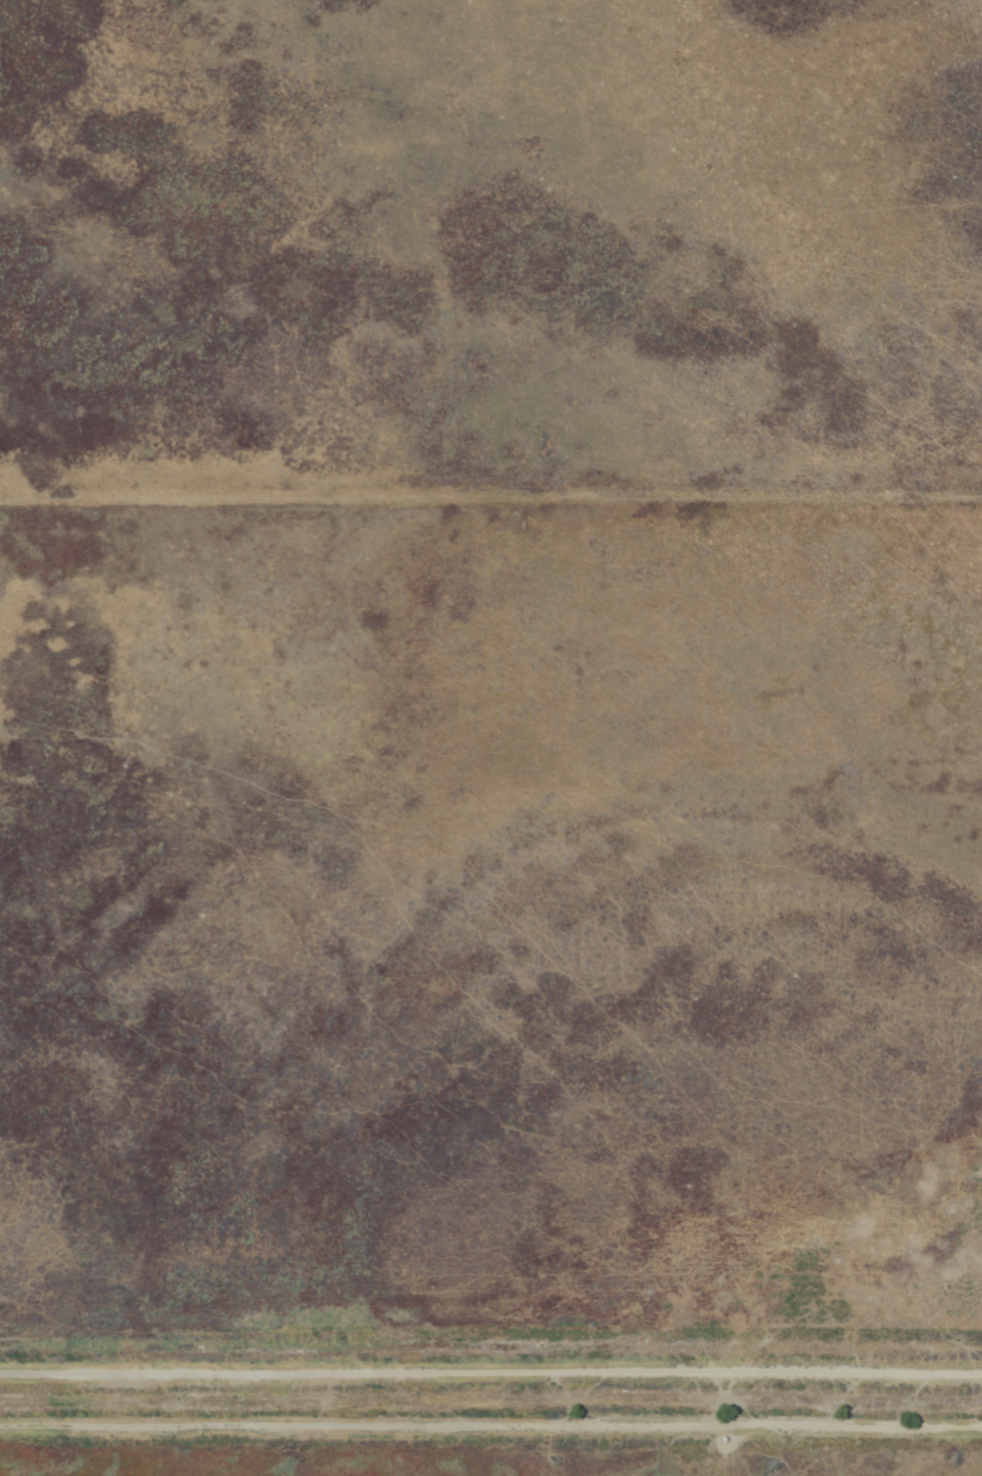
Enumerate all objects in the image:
crop: (491, 738)
road: (491, 1441)

